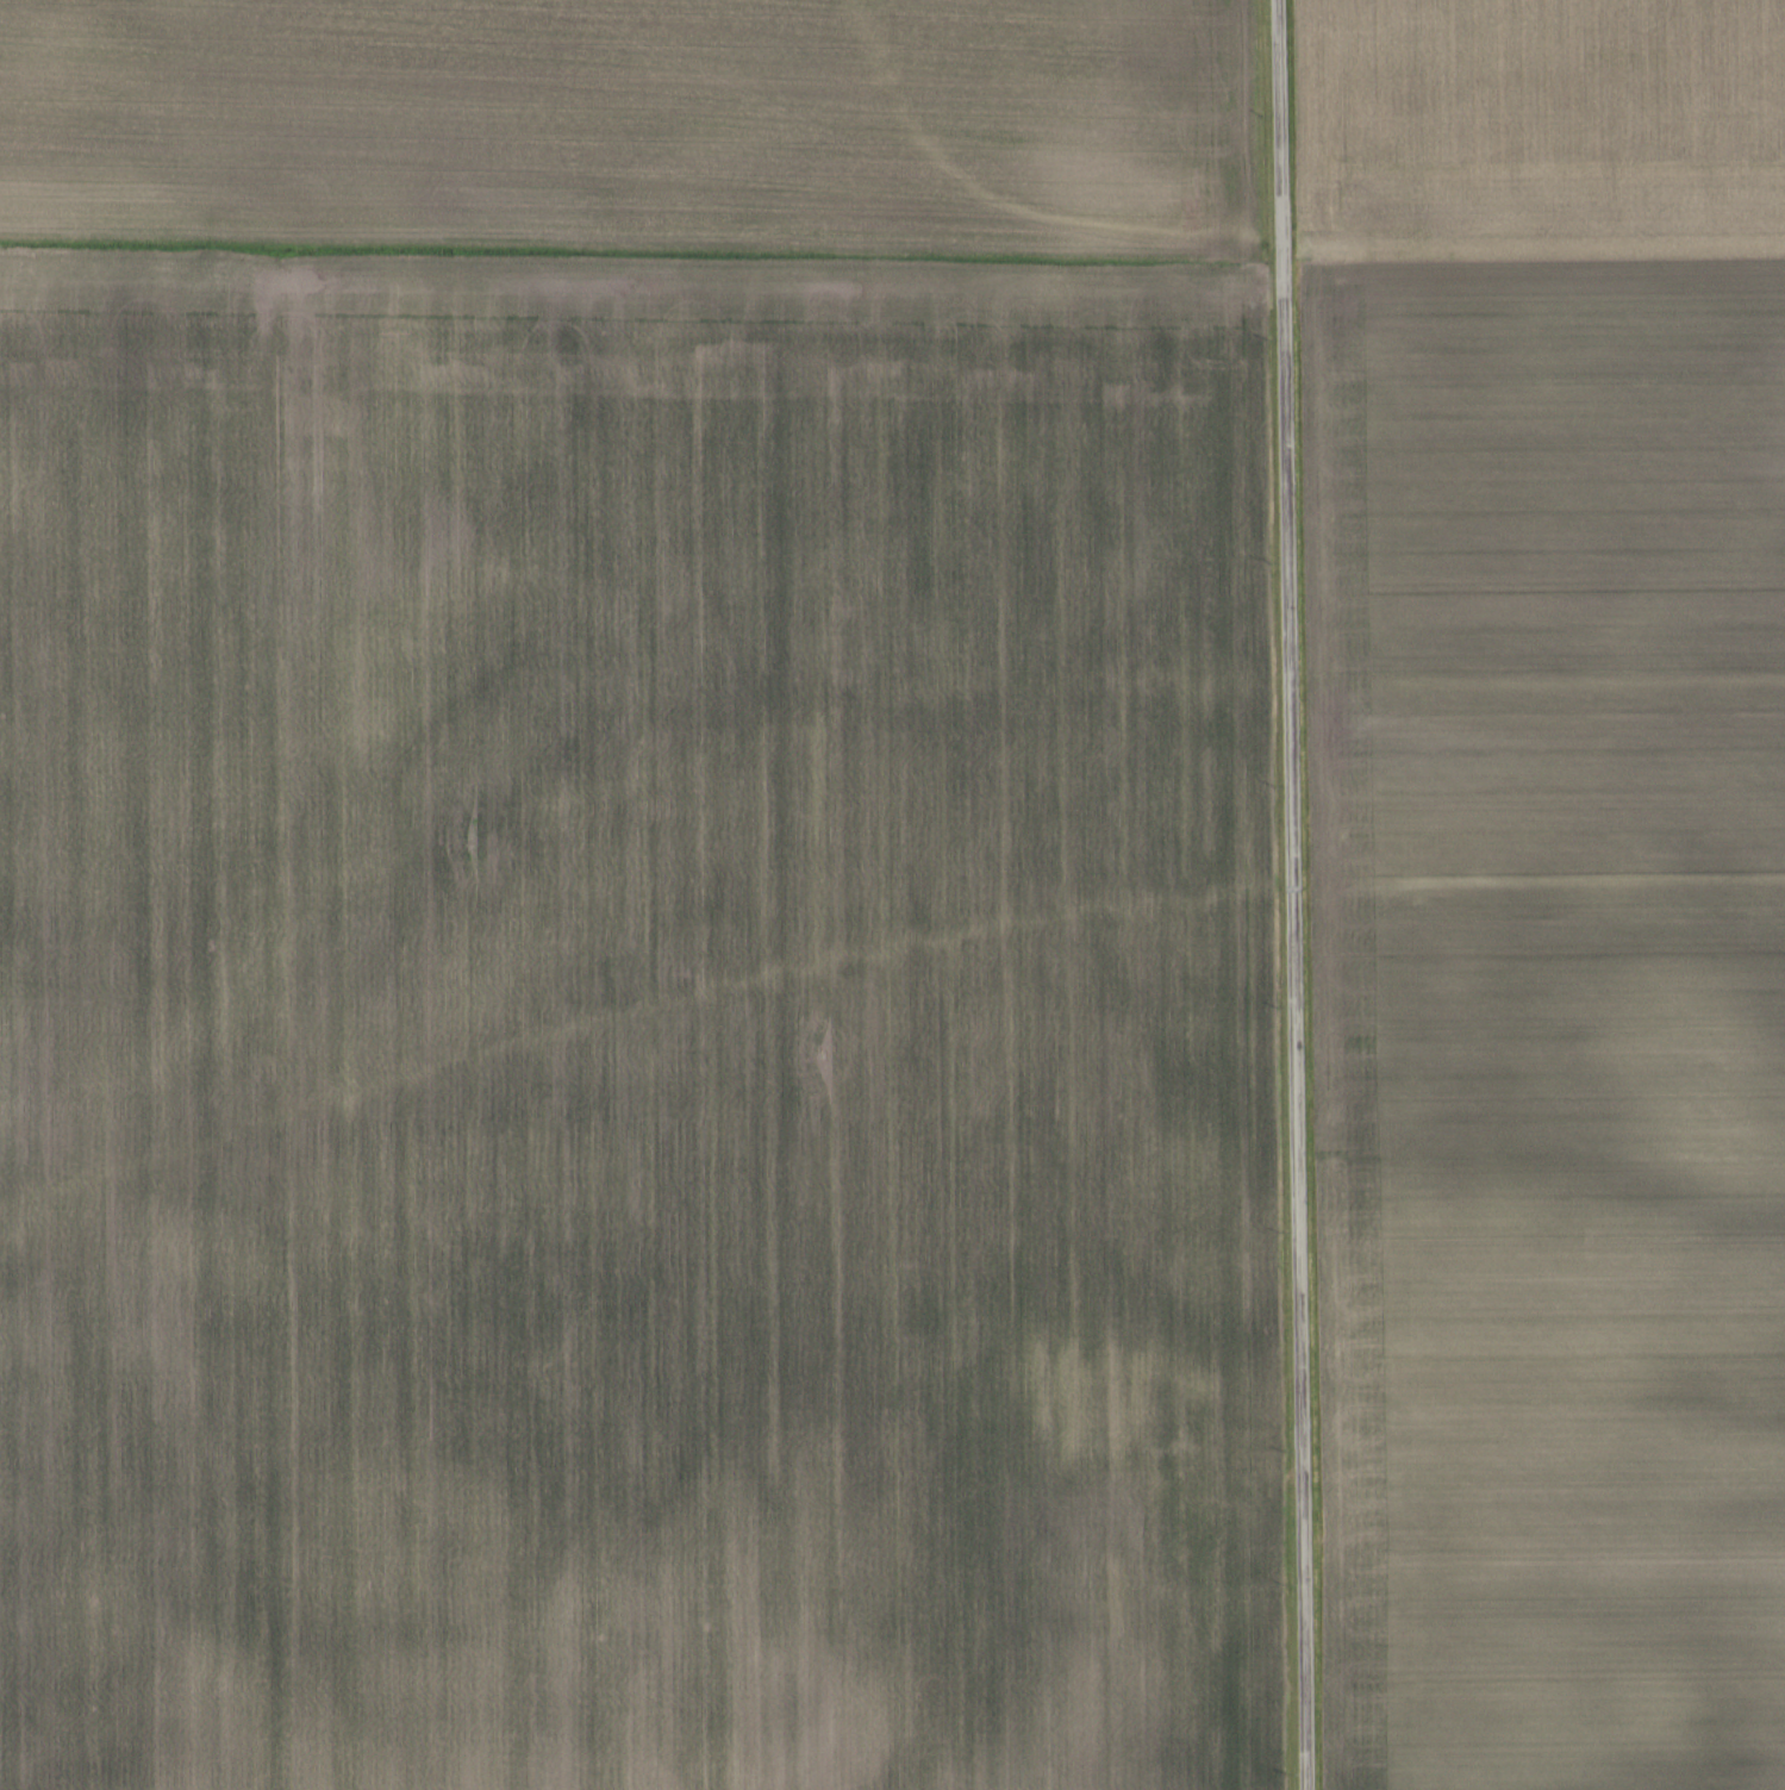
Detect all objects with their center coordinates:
road: (1299, 894)

